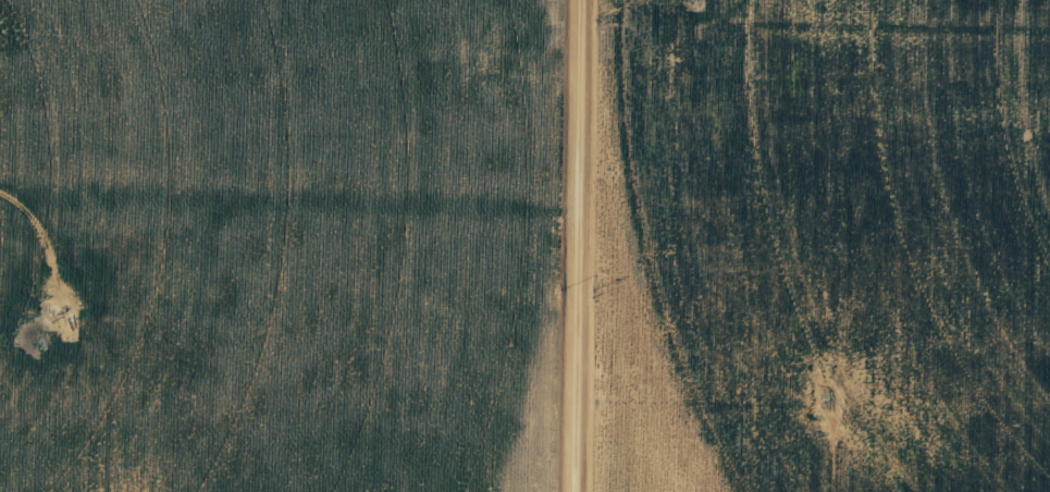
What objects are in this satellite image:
road: (580, 246)

